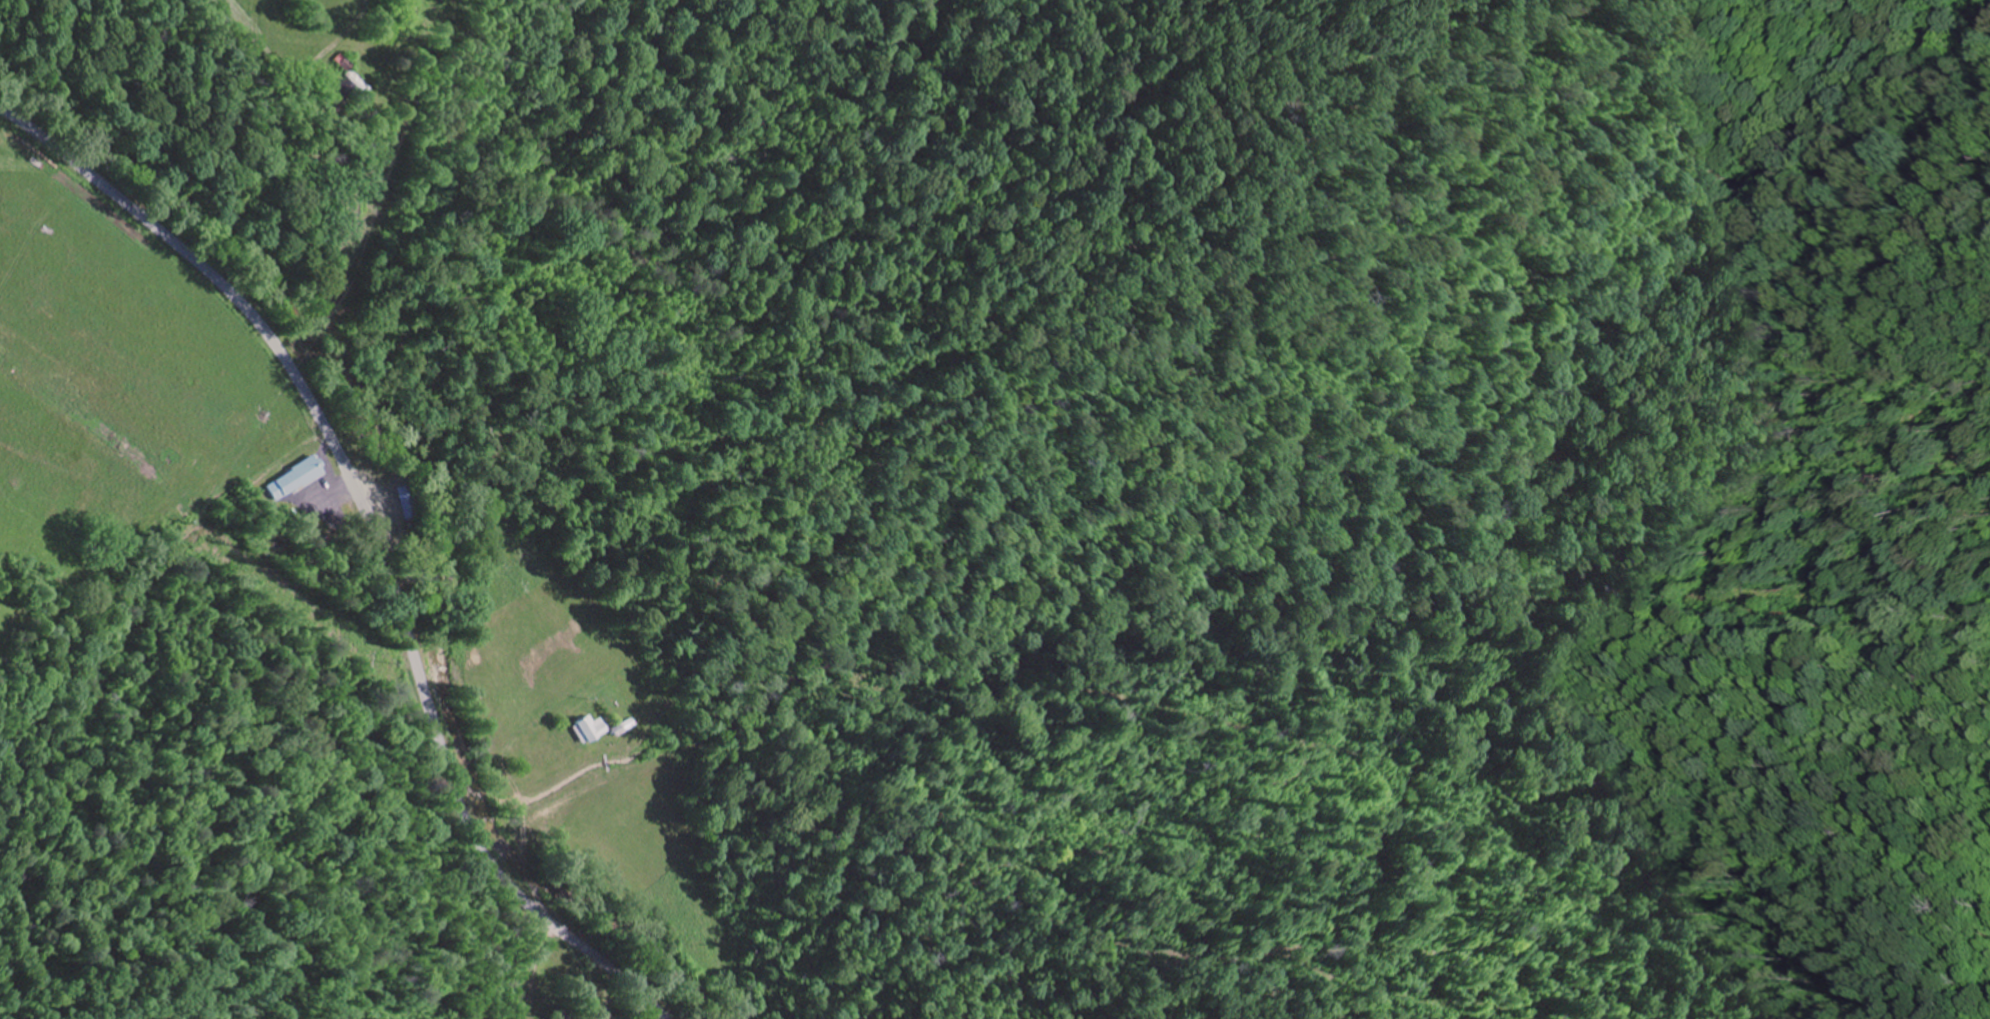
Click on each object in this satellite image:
building: (354, 80)
building: (331, 92)
building: (290, 478)
road: (375, 536)
building: (590, 727)

